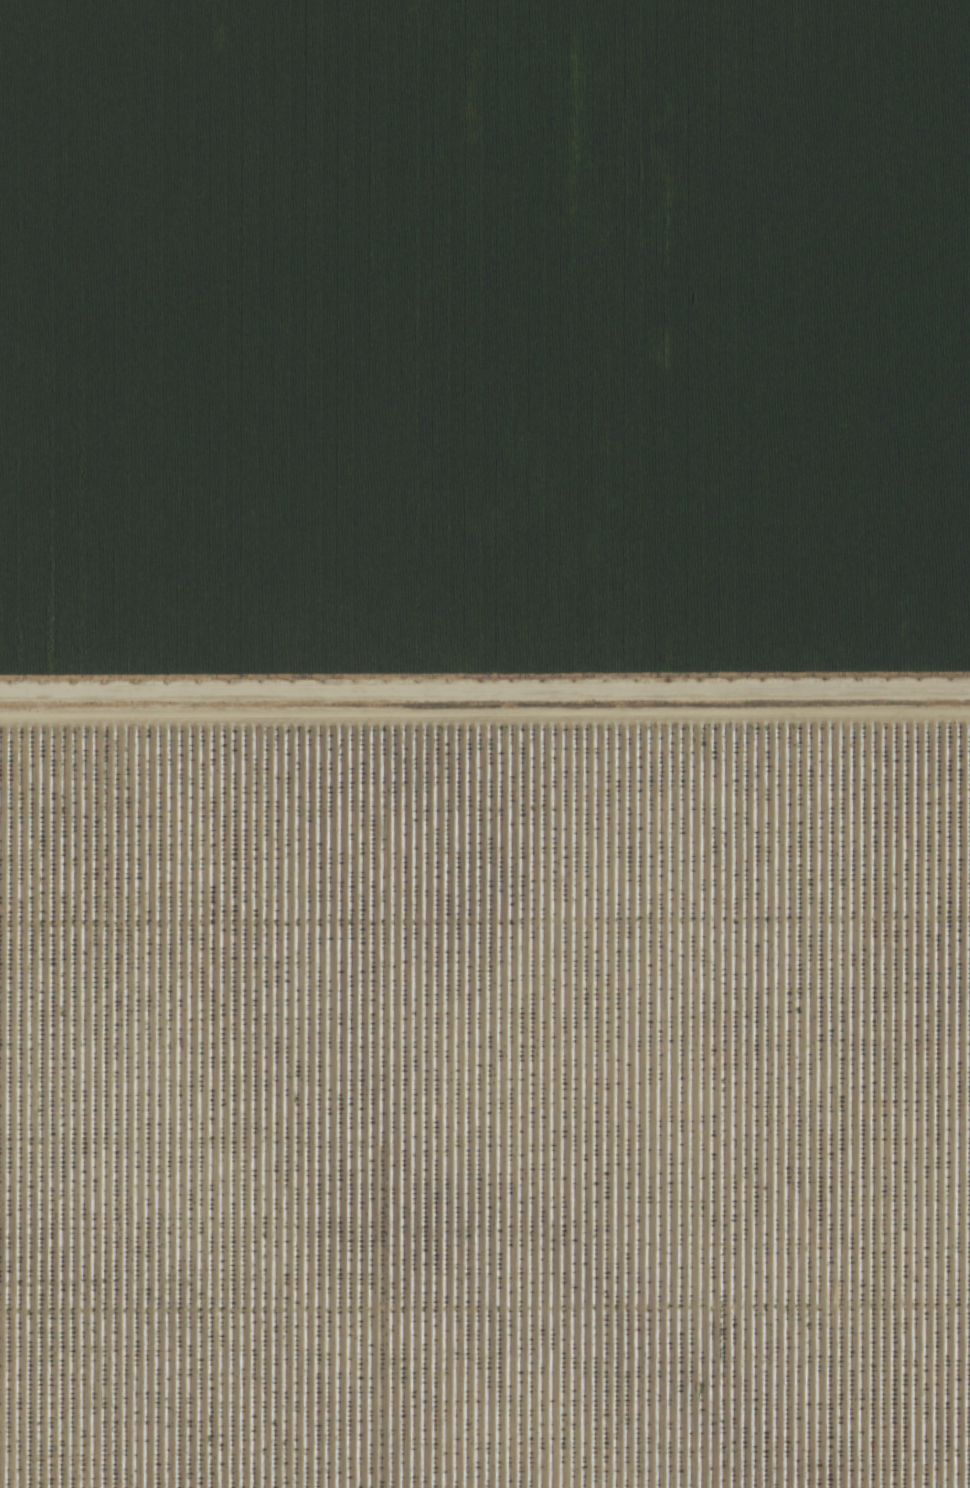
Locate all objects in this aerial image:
road: (485, 684)

